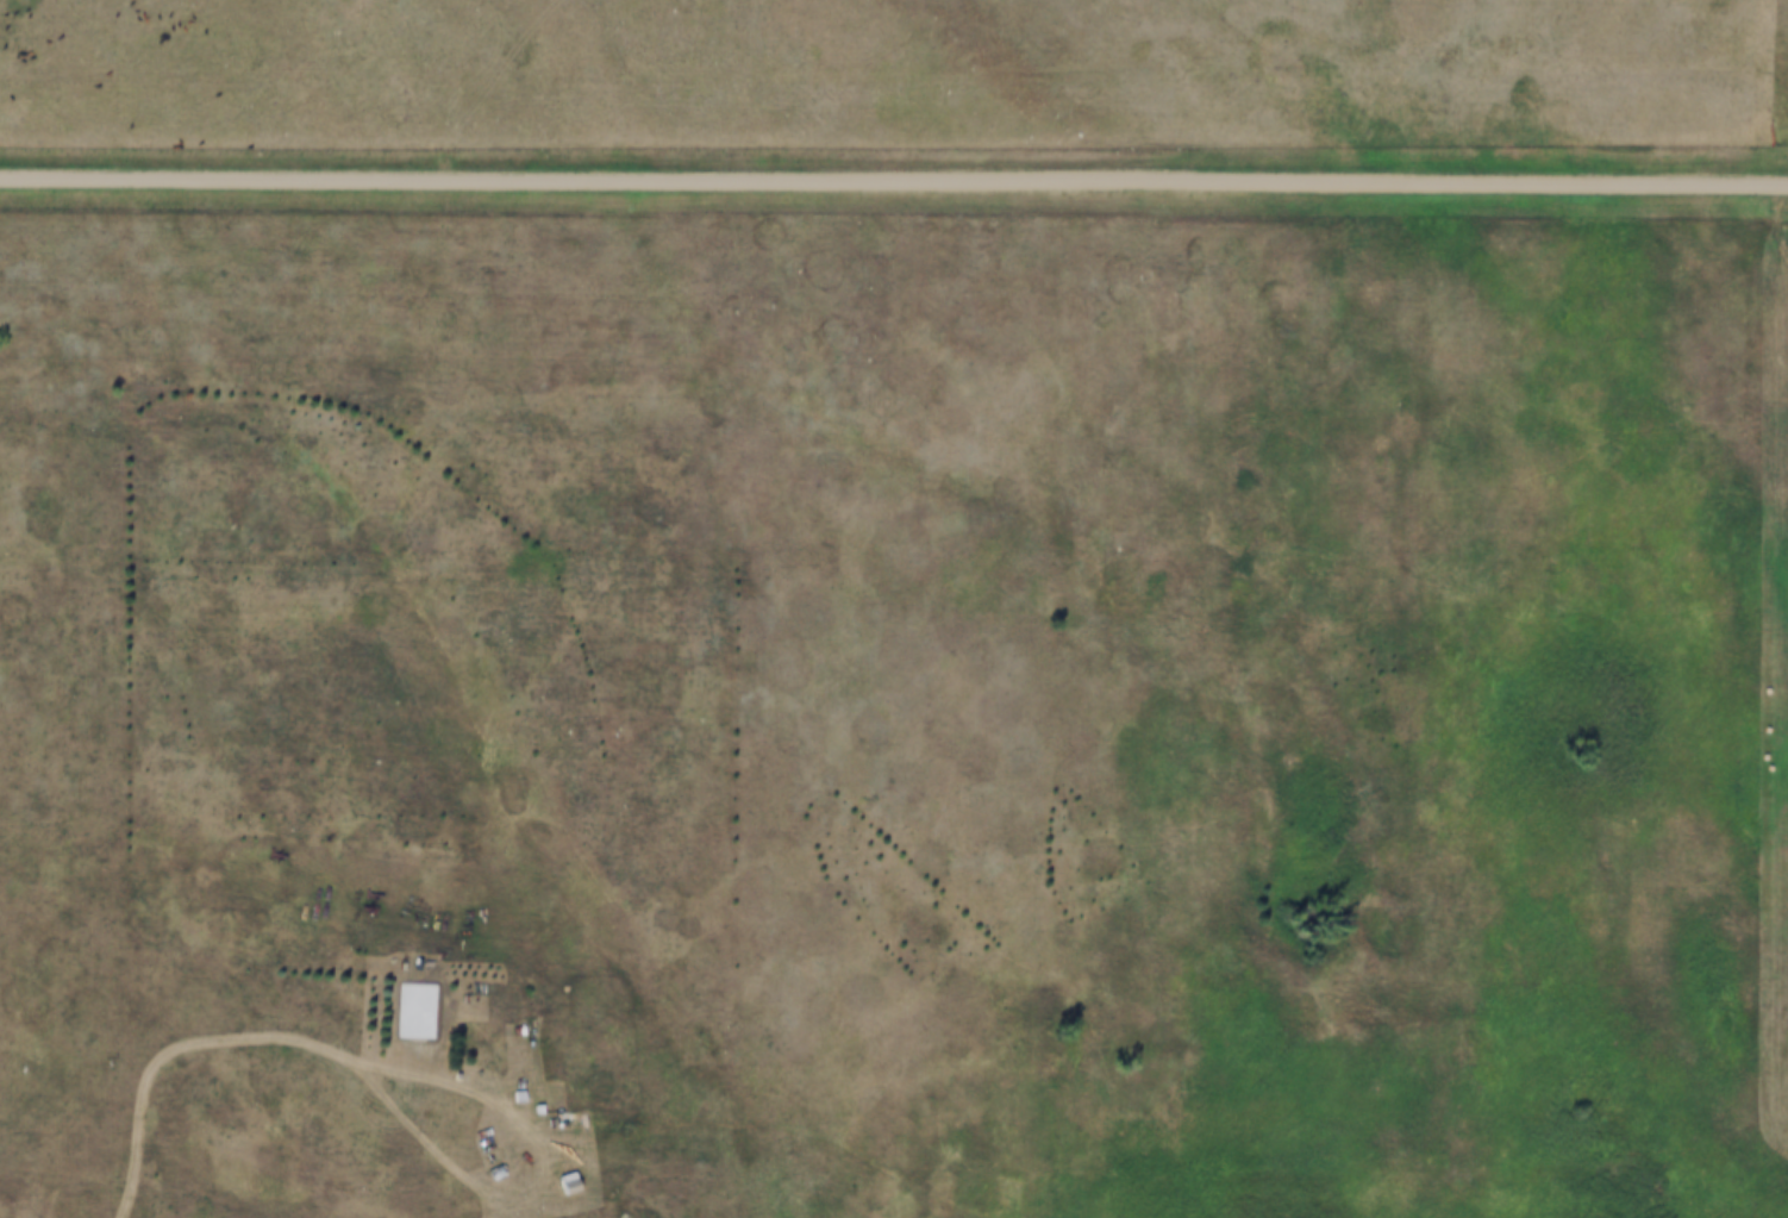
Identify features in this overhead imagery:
road: (894, 176)

